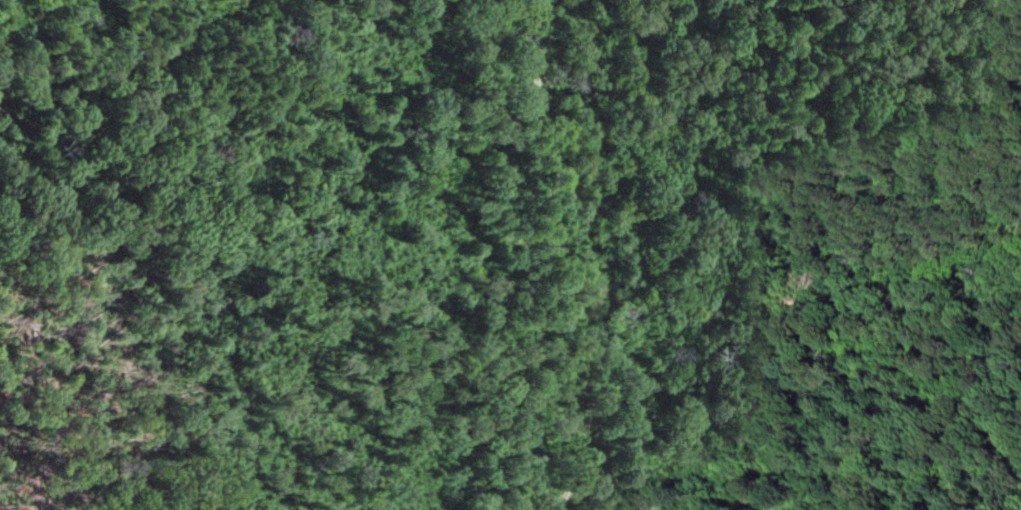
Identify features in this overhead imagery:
road: (590, 255)

